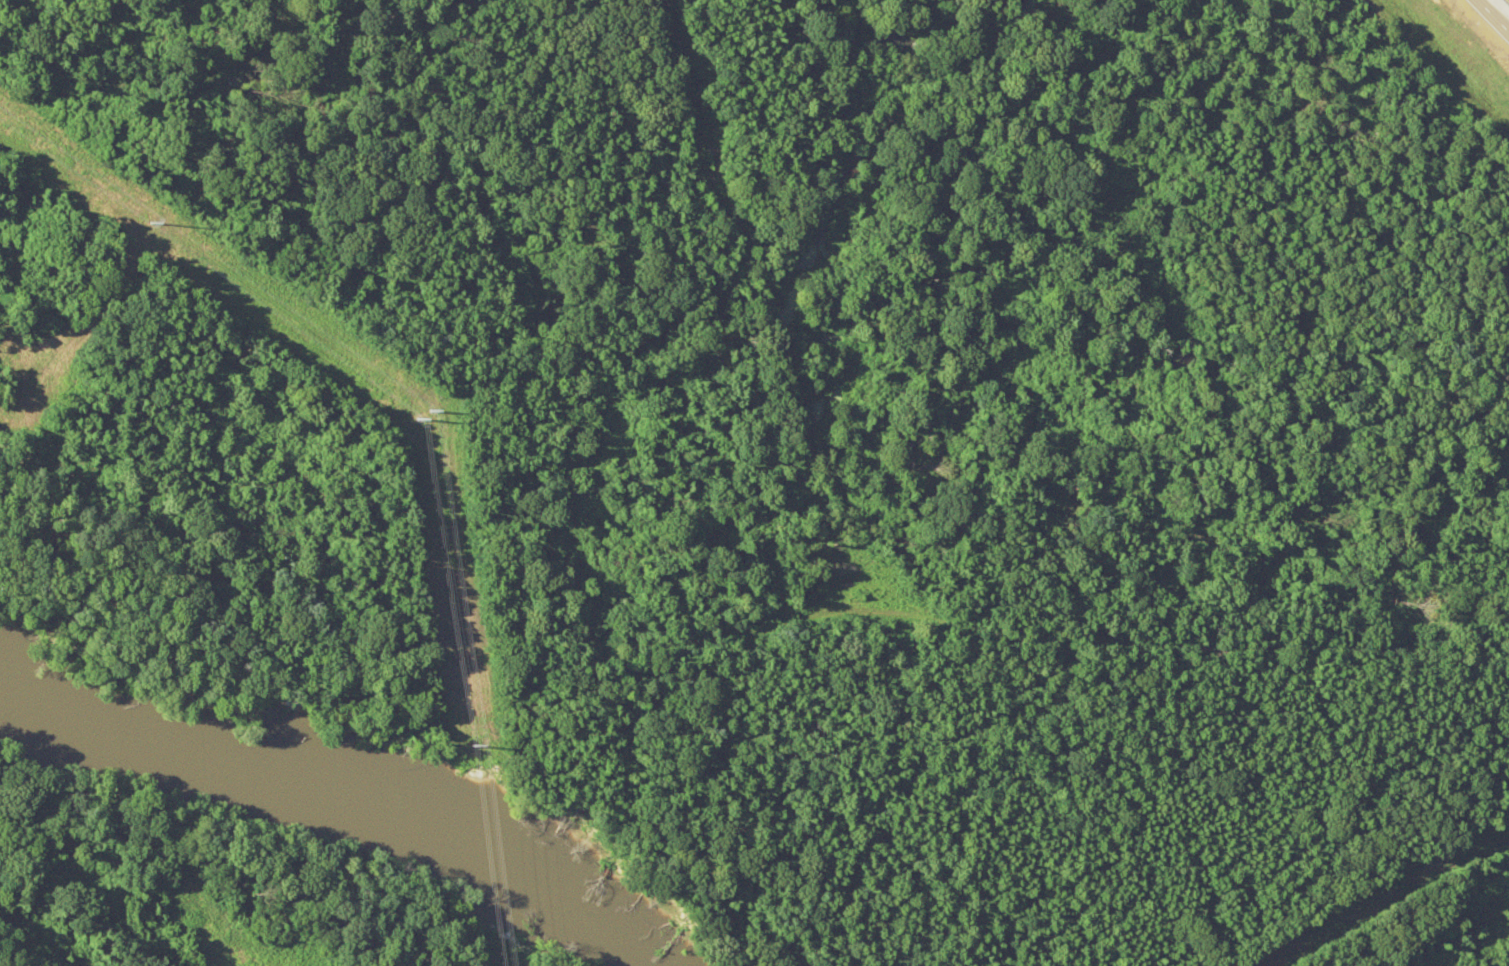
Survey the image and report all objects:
road: (1490, 18)
river: (337, 796)

